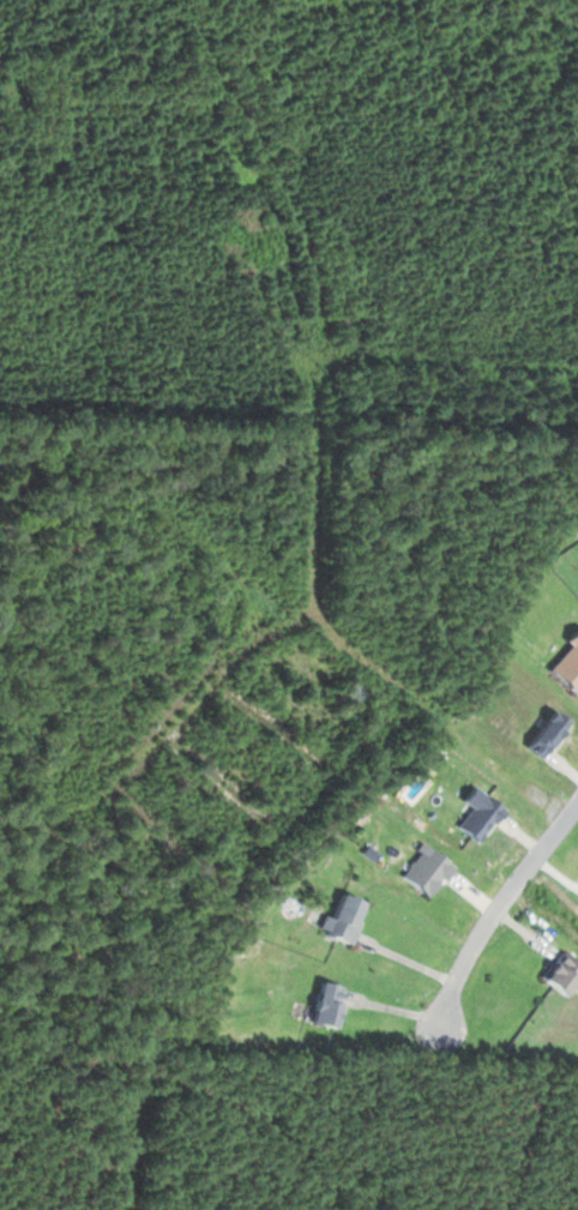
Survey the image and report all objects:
road: (565, 767)
road: (522, 841)
road: (477, 893)
road: (496, 911)
building: (342, 916)
road: (411, 962)
building: (559, 973)
building: (324, 1004)
road: (397, 1011)

